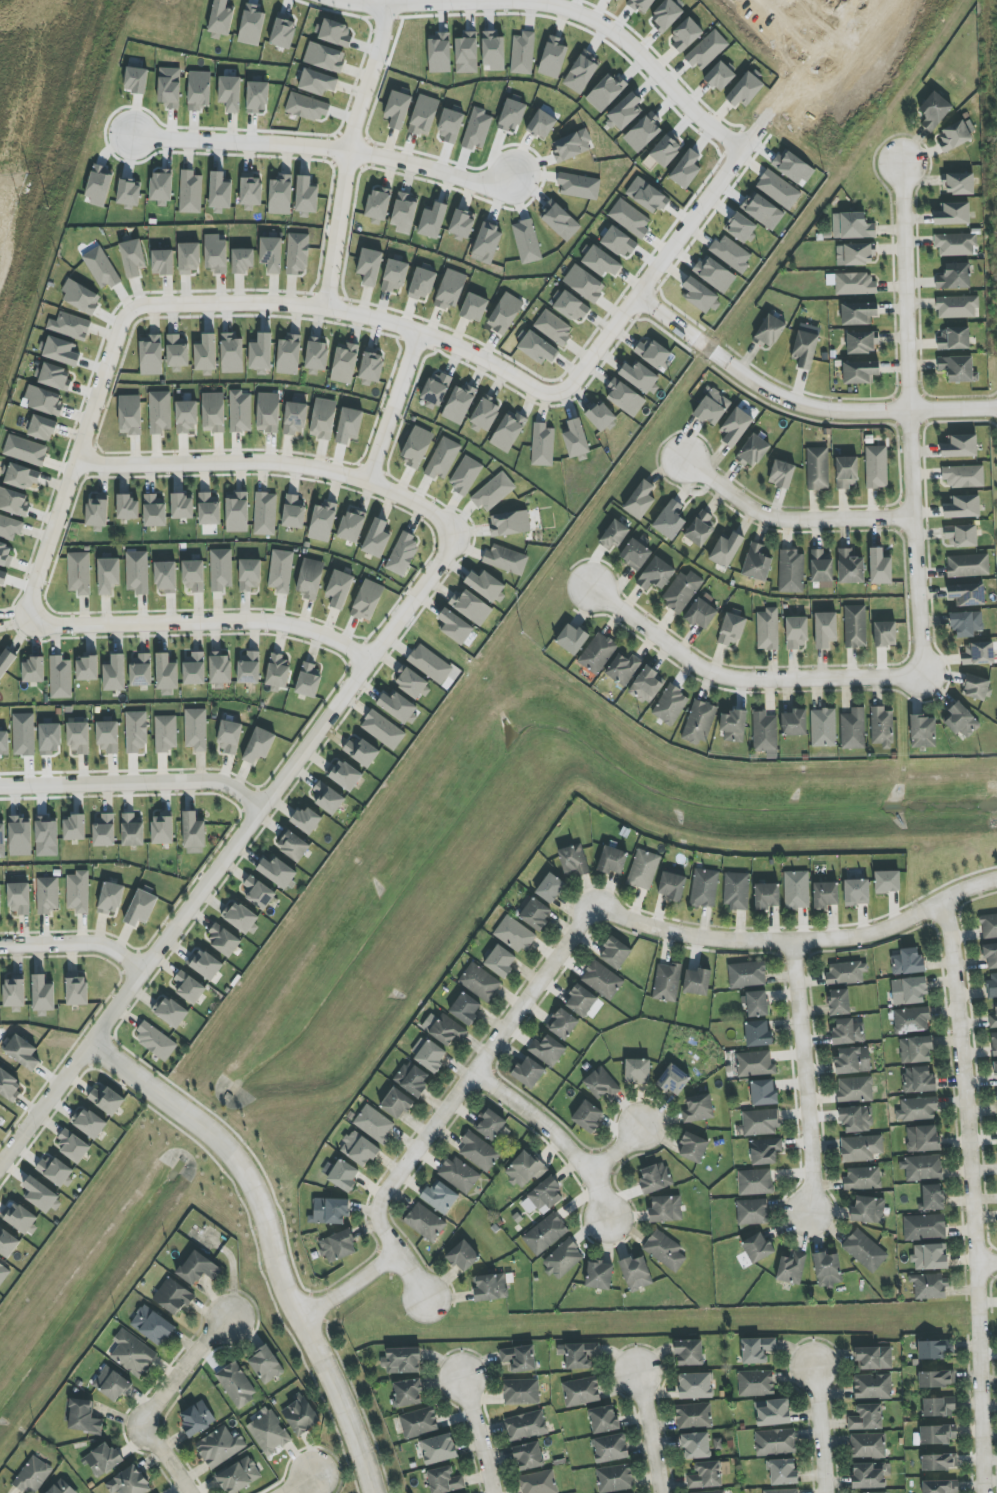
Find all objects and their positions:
building: (621, 0)
building: (641, 5)
road: (557, 10)
road: (819, 13)
building: (666, 15)
building: (221, 17)
building: (251, 26)
building: (283, 33)
building: (335, 34)
building: (685, 34)
building: (707, 50)
building: (493, 51)
building: (439, 53)
building: (466, 53)
building: (522, 53)
building: (324, 58)
building: (553, 58)
building: (581, 72)
building: (720, 76)
building: (136, 80)
building: (317, 82)
building: (169, 87)
building: (199, 90)
building: (745, 90)
building: (606, 92)
building: (230, 93)
building: (257, 97)
building: (306, 107)
building: (397, 109)
building: (934, 110)
building: (625, 112)
building: (423, 116)
building: (511, 116)
building: (541, 124)
building: (450, 126)
building: (477, 129)
building: (643, 132)
building: (956, 135)
building: (572, 145)
road: (325, 148)
building: (666, 149)
road: (348, 157)
building: (793, 167)
building: (686, 169)
building: (958, 183)
building: (578, 185)
building: (99, 186)
building: (161, 186)
building: (778, 189)
building: (190, 192)
building: (128, 193)
building: (219, 193)
building: (251, 193)
building: (280, 195)
building: (307, 196)
building: (648, 196)
road: (710, 198)
building: (377, 206)
building: (763, 211)
building: (404, 213)
building: (952, 214)
building: (630, 218)
building: (433, 221)
building: (560, 221)
building: (462, 224)
building: (852, 226)
building: (741, 227)
building: (527, 242)
building: (619, 242)
building: (487, 244)
building: (955, 244)
building: (271, 253)
building: (731, 253)
building: (216, 254)
building: (856, 254)
building: (133, 258)
building: (189, 258)
building: (242, 260)
building: (163, 262)
building: (601, 262)
building: (369, 266)
building: (101, 268)
building: (714, 274)
building: (394, 275)
building: (954, 277)
building: (422, 283)
building: (584, 283)
building: (854, 284)
building: (450, 290)
building: (700, 295)
building: (80, 297)
building: (570, 306)
building: (957, 306)
building: (474, 308)
building: (505, 313)
building: (858, 313)
road: (356, 315)
building: (69, 326)
building: (553, 327)
building: (769, 331)
building: (954, 339)
building: (862, 342)
building: (537, 348)
building: (805, 349)
building: (61, 351)
building: (206, 353)
building: (654, 353)
building: (177, 354)
building: (231, 354)
building: (261, 354)
building: (151, 355)
building: (288, 355)
building: (317, 355)
building: (345, 364)
building: (958, 368)
building: (371, 369)
building: (860, 372)
building: (55, 377)
building: (640, 377)
building: (435, 390)
building: (625, 397)
building: (43, 400)
building: (459, 404)
road: (800, 404)
building: (712, 407)
road: (393, 408)
building: (159, 412)
building: (213, 412)
building: (240, 412)
building: (268, 413)
building: (485, 414)
building: (130, 415)
building: (186, 416)
building: (601, 416)
building: (295, 418)
building: (323, 419)
road: (911, 421)
building: (349, 426)
building: (735, 426)
building: (42, 428)
building: (508, 431)
building: (576, 439)
building: (542, 445)
building: (416, 446)
building: (960, 446)
building: (25, 450)
building: (753, 451)
road: (76, 456)
building: (443, 459)
road: (270, 465)
building: (876, 467)
building: (818, 468)
building: (847, 472)
building: (781, 474)
building: (465, 476)
building: (963, 476)
building: (21, 477)
building: (493, 492)
building: (640, 500)
building: (13, 502)
building: (182, 507)
building: (963, 507)
building: (127, 508)
building: (209, 510)
building: (154, 511)
building: (237, 512)
building: (293, 512)
building: (97, 514)
building: (265, 514)
building: (670, 520)
road: (789, 520)
building: (322, 522)
building: (509, 523)
building: (352, 526)
building: (9, 528)
building: (700, 528)
building: (613, 535)
building: (960, 536)
building: (376, 539)
building: (726, 550)
building: (403, 554)
building: (635, 554)
building: (5, 555)
building: (506, 559)
building: (757, 563)
building: (968, 565)
building: (821, 567)
building: (850, 567)
building: (880, 567)
building: (221, 570)
building: (281, 571)
building: (791, 571)
building: (137, 572)
building: (79, 573)
building: (656, 574)
building: (109, 575)
building: (250, 575)
building: (194, 576)
building: (166, 577)
building: (3, 578)
building: (310, 578)
building: (487, 586)
building: (339, 589)
building: (682, 591)
building: (967, 594)
building: (368, 601)
building: (471, 607)
building: (701, 613)
road: (202, 621)
building: (966, 623)
building: (855, 626)
building: (455, 627)
building: (732, 629)
building: (767, 629)
building: (825, 629)
building: (796, 633)
building: (885, 634)
building: (572, 639)
building: (597, 653)
building: (978, 654)
building: (6, 661)
building: (430, 664)
building: (86, 668)
building: (220, 668)
building: (249, 668)
building: (194, 669)
building: (623, 669)
building: (33, 670)
building: (141, 670)
building: (166, 672)
building: (278, 672)
building: (115, 674)
building: (60, 678)
building: (308, 679)
road: (741, 680)
building: (411, 682)
building: (647, 684)
building: (976, 687)
building: (670, 705)
building: (397, 707)
building: (961, 721)
building: (699, 722)
building: (794, 723)
building: (733, 725)
building: (823, 727)
building: (881, 727)
building: (196, 729)
building: (853, 729)
building: (383, 730)
building: (136, 731)
building: (764, 732)
building: (923, 732)
building: (166, 733)
building: (23, 735)
building: (78, 737)
building: (108, 737)
building: (229, 737)
building: (50, 738)
building: (4, 744)
building: (259, 745)
building: (361, 751)
building: (345, 776)
road: (164, 782)
road: (30, 785)
building: (327, 798)
building: (307, 820)
building: (74, 828)
building: (162, 829)
building: (104, 831)
building: (132, 831)
building: (194, 834)
building: (20, 836)
building: (46, 836)
building: (2, 840)
building: (292, 846)
road: (230, 853)
building: (612, 860)
building: (573, 861)
building: (643, 869)
building: (277, 872)
building: (887, 882)
building: (672, 886)
building: (550, 888)
building: (704, 888)
building: (736, 890)
building: (797, 890)
building: (78, 892)
building: (257, 892)
building: (856, 892)
building: (48, 895)
building: (825, 895)
building: (766, 896)
building: (19, 898)
building: (0, 899)
building: (110, 899)
building: (141, 908)
building: (535, 914)
building: (240, 918)
building: (989, 925)
road: (573, 930)
building: (515, 934)
building: (222, 940)
road: (76, 943)
building: (615, 953)
building: (990, 955)
building: (500, 961)
building: (908, 962)
building: (206, 965)
building: (846, 973)
building: (747, 974)
building: (602, 980)
building: (697, 981)
building: (479, 982)
building: (667, 982)
building: (992, 985)
building: (188, 987)
building: (77, 991)
building: (909, 991)
building: (14, 995)
building: (42, 995)
building: (581, 1001)
building: (839, 1002)
building: (756, 1003)
building: (466, 1009)
building: (169, 1012)
building: (993, 1019)
building: (911, 1020)
building: (562, 1023)
building: (447, 1030)
building: (848, 1032)
building: (758, 1033)
building: (155, 1041)
building: (994, 1043)
building: (547, 1050)
building: (915, 1050)
building: (22, 1052)
building: (431, 1056)
building: (852, 1060)
building: (755, 1064)
building: (995, 1069)
building: (637, 1071)
building: (528, 1072)
road: (802, 1078)
building: (412, 1079)
building: (673, 1080)
building: (918, 1080)
building: (601, 1083)
building: (9, 1086)
building: (855, 1089)
building: (996, 1092)
building: (763, 1093)
building: (106, 1100)
building: (396, 1104)
building: (698, 1108)
building: (917, 1109)
building: (588, 1116)
road: (534, 1118)
building: (856, 1119)
building: (760, 1122)
building: (88, 1123)
building: (374, 1124)
building: (492, 1126)
building: (923, 1138)
building: (72, 1146)
building: (693, 1148)
building: (861, 1148)
building: (359, 1149)
road: (614, 1150)
building: (765, 1151)
building: (479, 1152)
building: (921, 1167)
building: (524, 1169)
building: (56, 1172)
building: (459, 1175)
building: (344, 1176)
building: (655, 1178)
building: (862, 1178)
building: (755, 1182)
building: (40, 1195)
road: (597, 1195)
building: (543, 1196)
building: (440, 1198)
building: (932, 1198)
road: (971, 1199)
building: (666, 1209)
building: (868, 1210)
building: (331, 1211)
building: (752, 1212)
building: (20, 1218)
building: (425, 1223)
building: (924, 1227)
building: (545, 1234)
road: (269, 1240)
building: (7, 1243)
building: (338, 1246)
building: (757, 1247)
building: (664, 1250)
building: (865, 1250)
building: (463, 1256)
building: (929, 1257)
building: (563, 1259)
road: (986, 1261)
building: (791, 1268)
building: (198, 1269)
building: (827, 1269)
building: (3, 1273)
building: (635, 1273)
building: (599, 1275)
road: (346, 1287)
building: (491, 1287)
building: (929, 1287)
building: (173, 1297)
building: (153, 1326)
building: (935, 1349)
building: (757, 1350)
building: (689, 1353)
building: (132, 1354)
building: (578, 1355)
building: (519, 1358)
building: (873, 1358)
building: (402, 1361)
building: (266, 1365)
building: (937, 1379)
building: (756, 1383)
building: (112, 1384)
building: (236, 1385)
building: (695, 1385)
building: (872, 1386)
building: (521, 1392)
building: (581, 1392)
building: (408, 1393)
road: (157, 1400)
building: (938, 1407)
building: (773, 1412)
building: (693, 1415)
building: (300, 1416)
building: (83, 1417)
building: (866, 1417)
building: (196, 1419)
building: (603, 1419)
building: (419, 1422)
building: (526, 1426)
road: (817, 1430)
building: (267, 1432)
road: (648, 1433)
building: (938, 1434)
road: (475, 1436)
building: (775, 1442)
building: (717, 1443)
building: (695, 1445)
building: (867, 1445)
building: (219, 1447)
building: (610, 1448)
building: (439, 1449)
building: (528, 1456)
building: (103, 1460)
building: (939, 1462)
building: (782, 1471)
building: (705, 1475)
building: (870, 1475)
building: (32, 1476)
building: (239, 1476)
building: (615, 1478)
building: (445, 1481)
building: (128, 1482)
building: (538, 1482)
road: (298, 1485)
building: (939, 1486)
building: (61, 1488)
building: (782, 1491)
building: (709, 1492)
building: (877, 1492)

